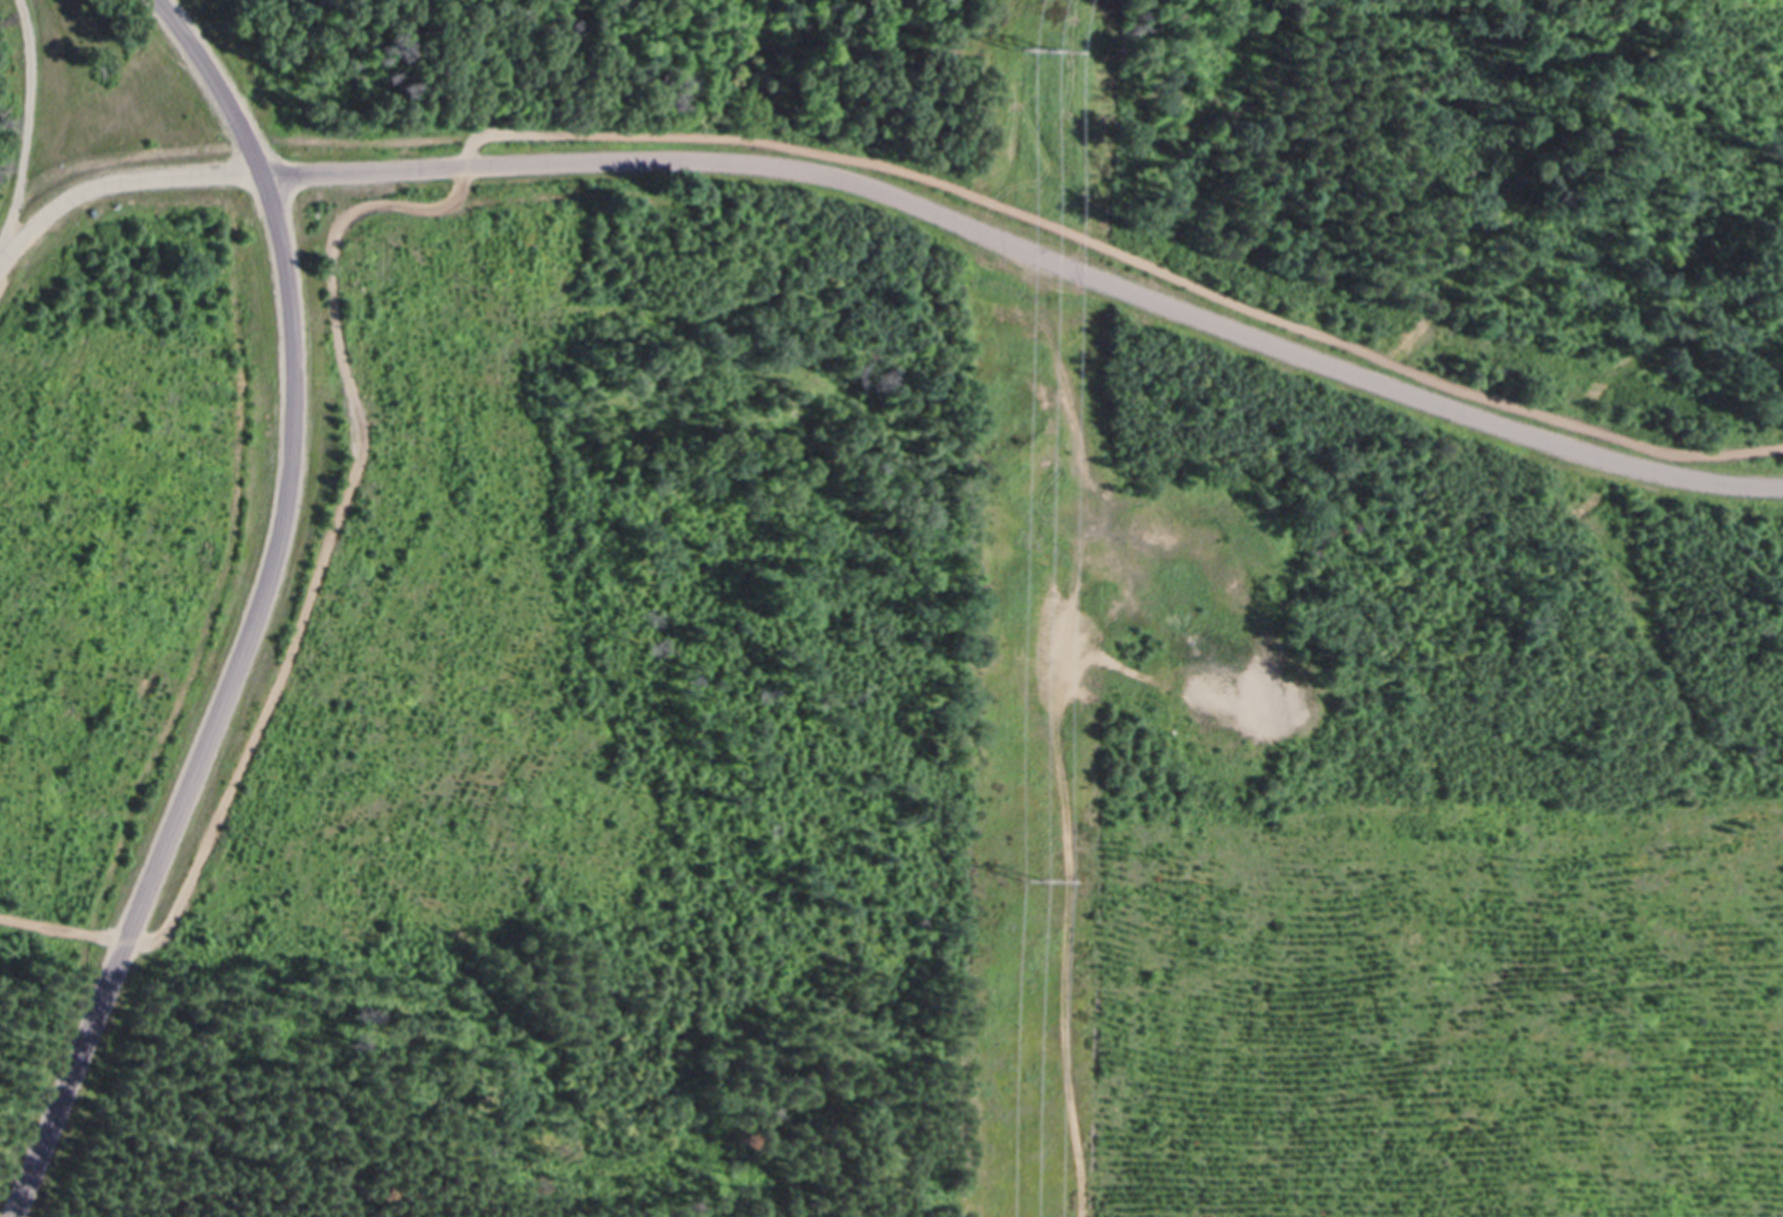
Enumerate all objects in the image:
power tower: (1035, 48)
road: (886, 165)
road: (898, 192)
road: (254, 613)
road: (1061, 738)
power tower: (1032, 880)

